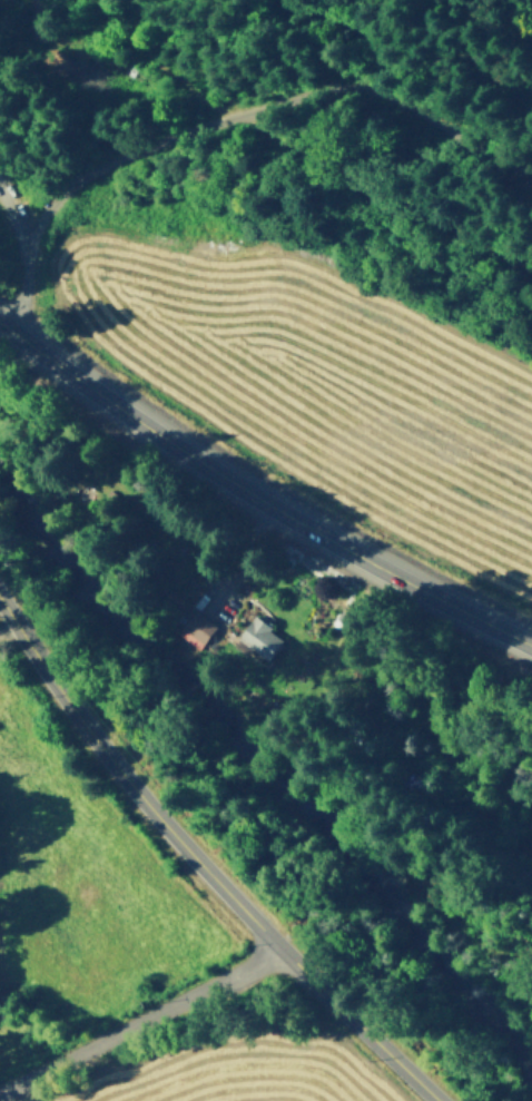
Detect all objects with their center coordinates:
building: (71, 63)
road: (259, 107)
road: (3, 193)
building: (199, 205)
road: (24, 267)
crop: (323, 384)
road: (257, 494)
road: (236, 556)
road: (9, 628)
building: (199, 629)
building: (259, 635)
river: (267, 806)
road: (204, 864)
road: (140, 1019)
crop: (282, 1087)
crop: (17, 1098)

